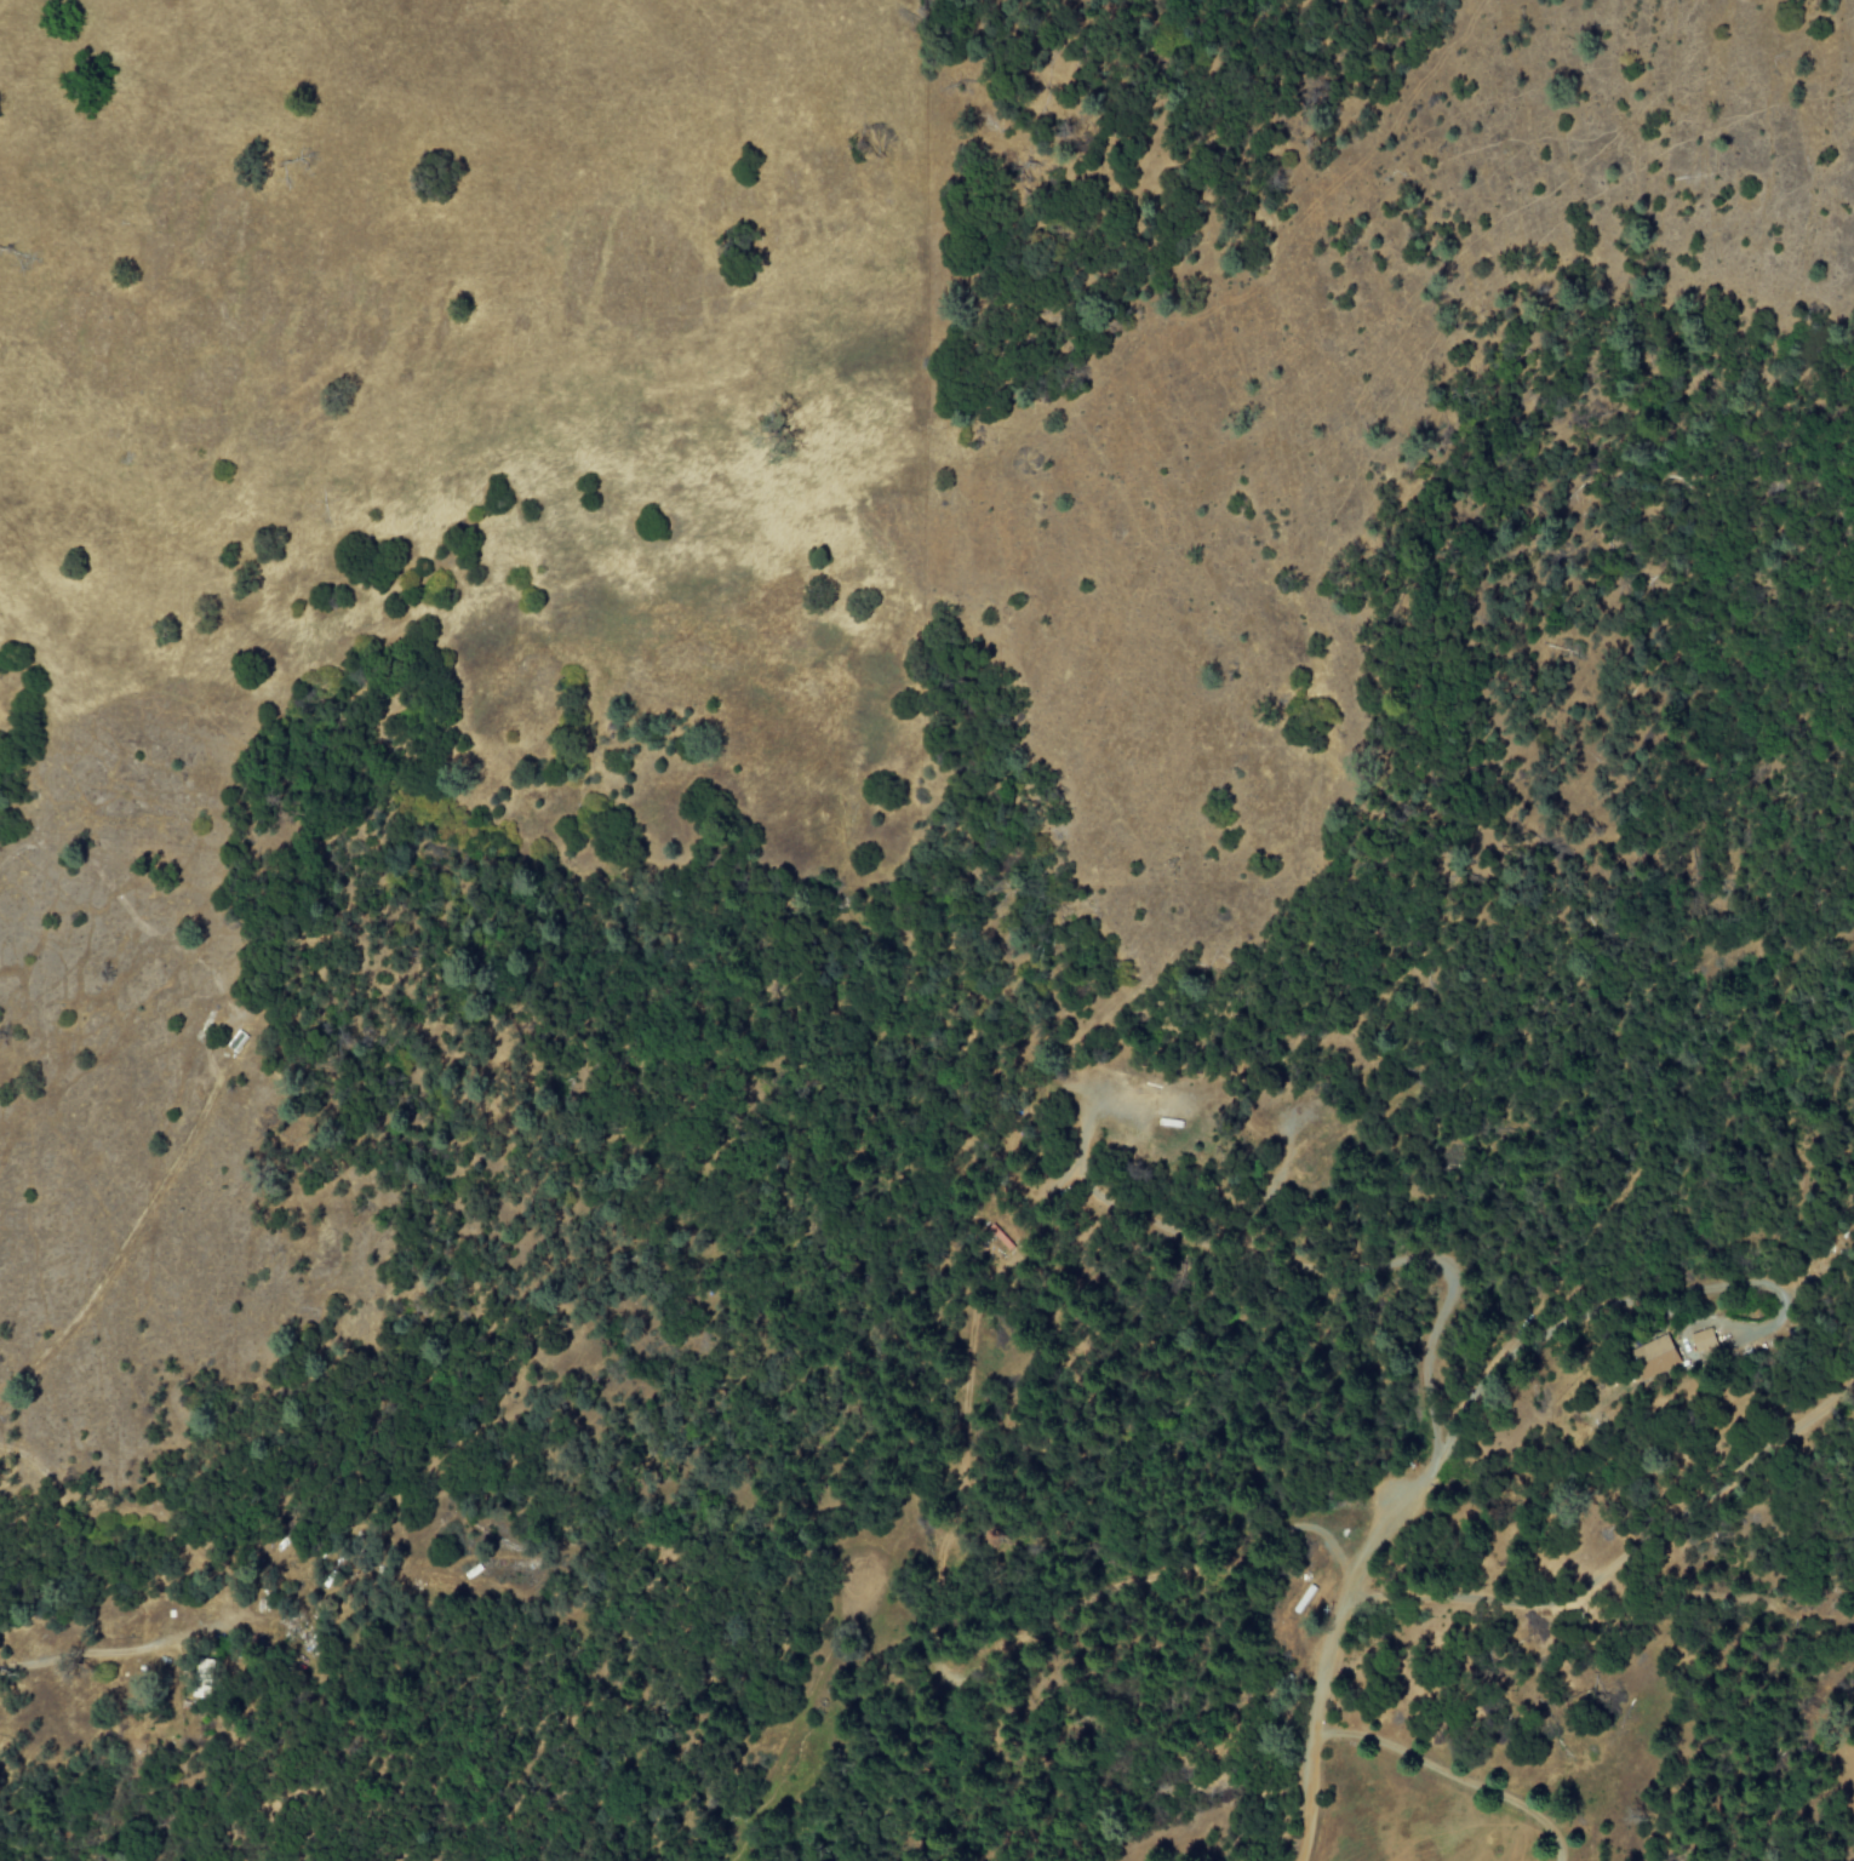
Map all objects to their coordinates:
building: (1653, 1358)
road: (1328, 1668)
building: (201, 1679)

